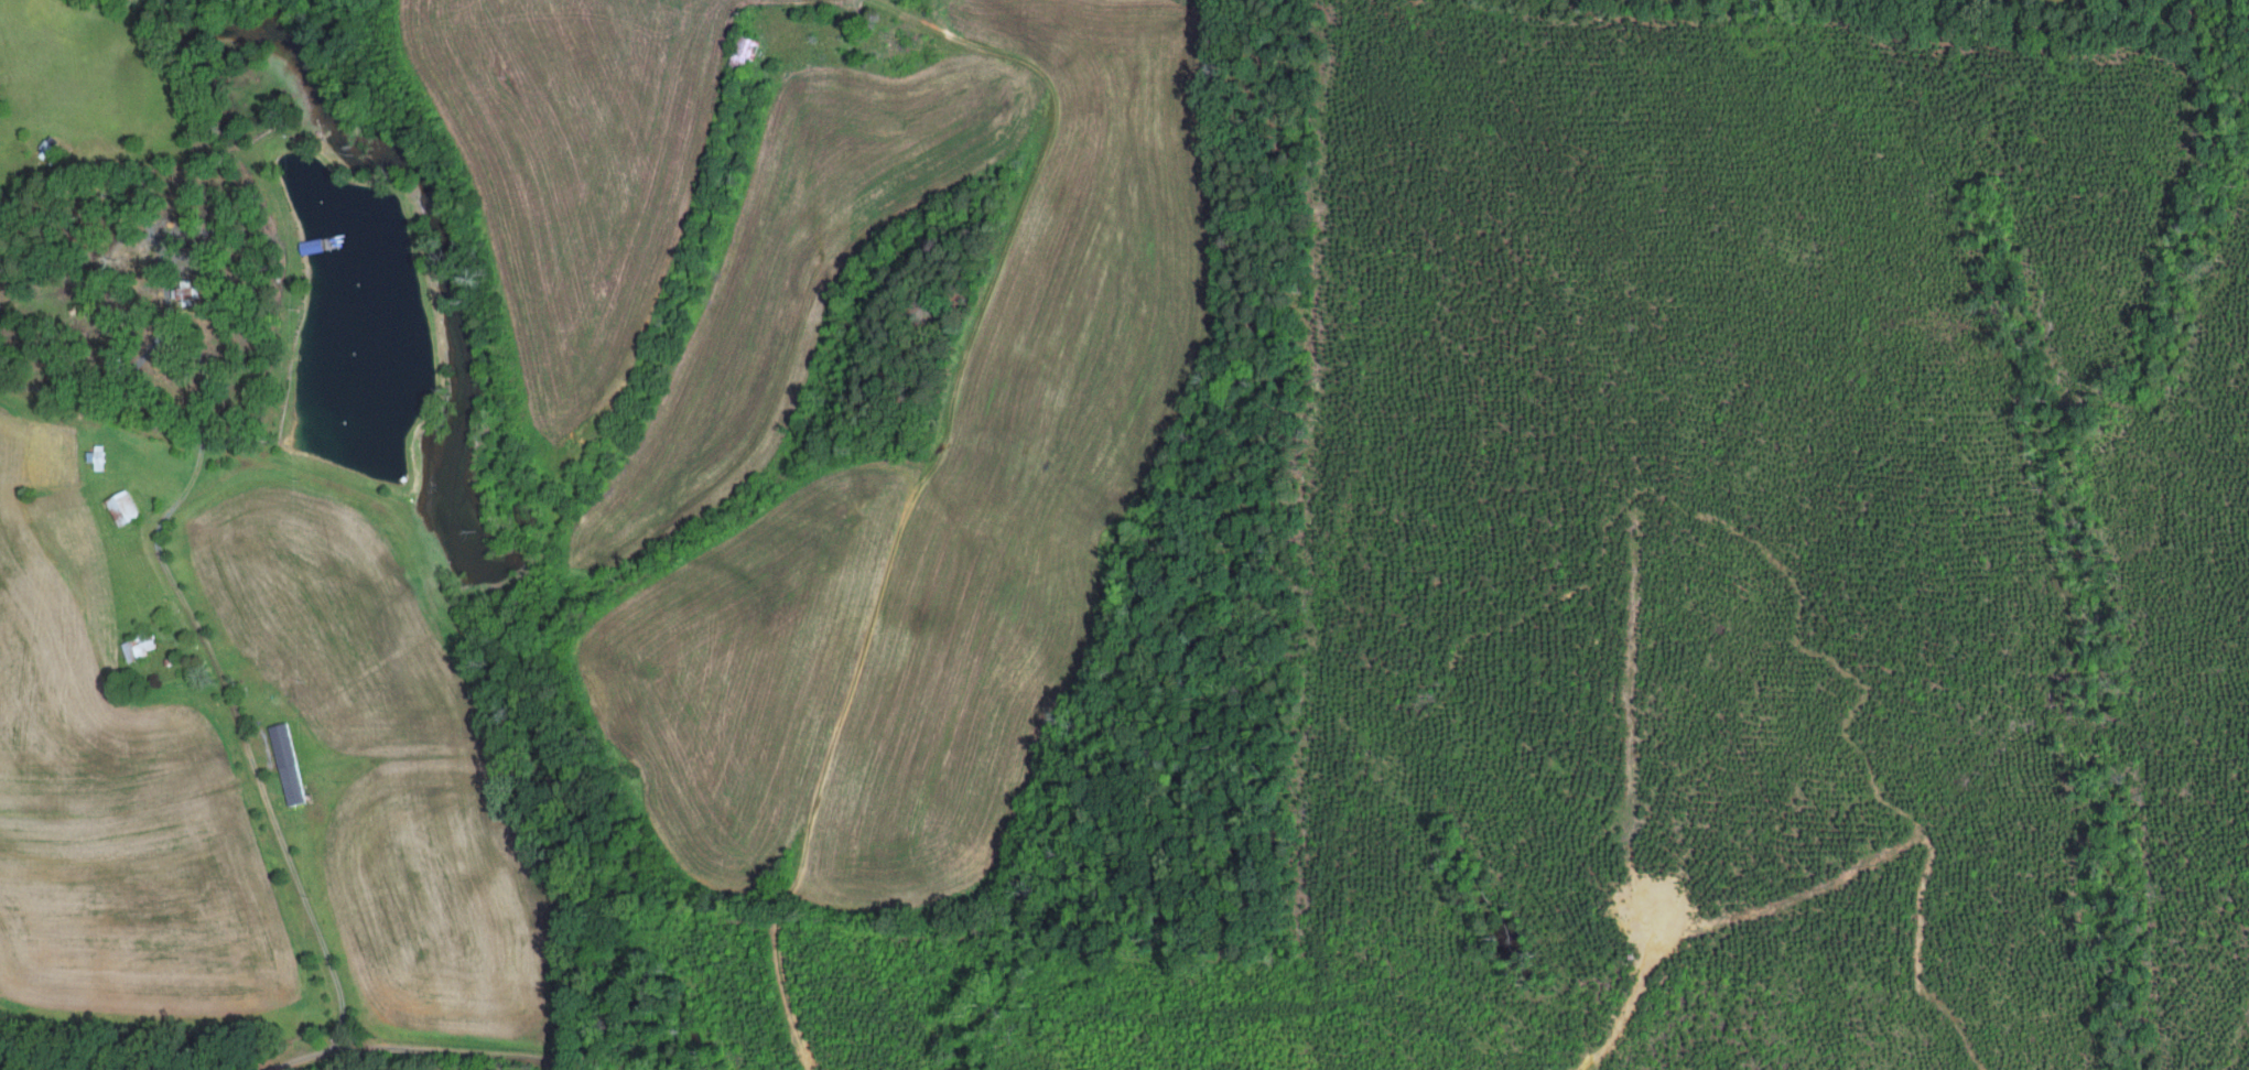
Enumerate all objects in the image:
road: (1005, 163)
building: (183, 292)
building: (94, 456)
building: (120, 507)
road: (153, 618)
building: (137, 646)
building: (285, 763)
road: (434, 1044)

